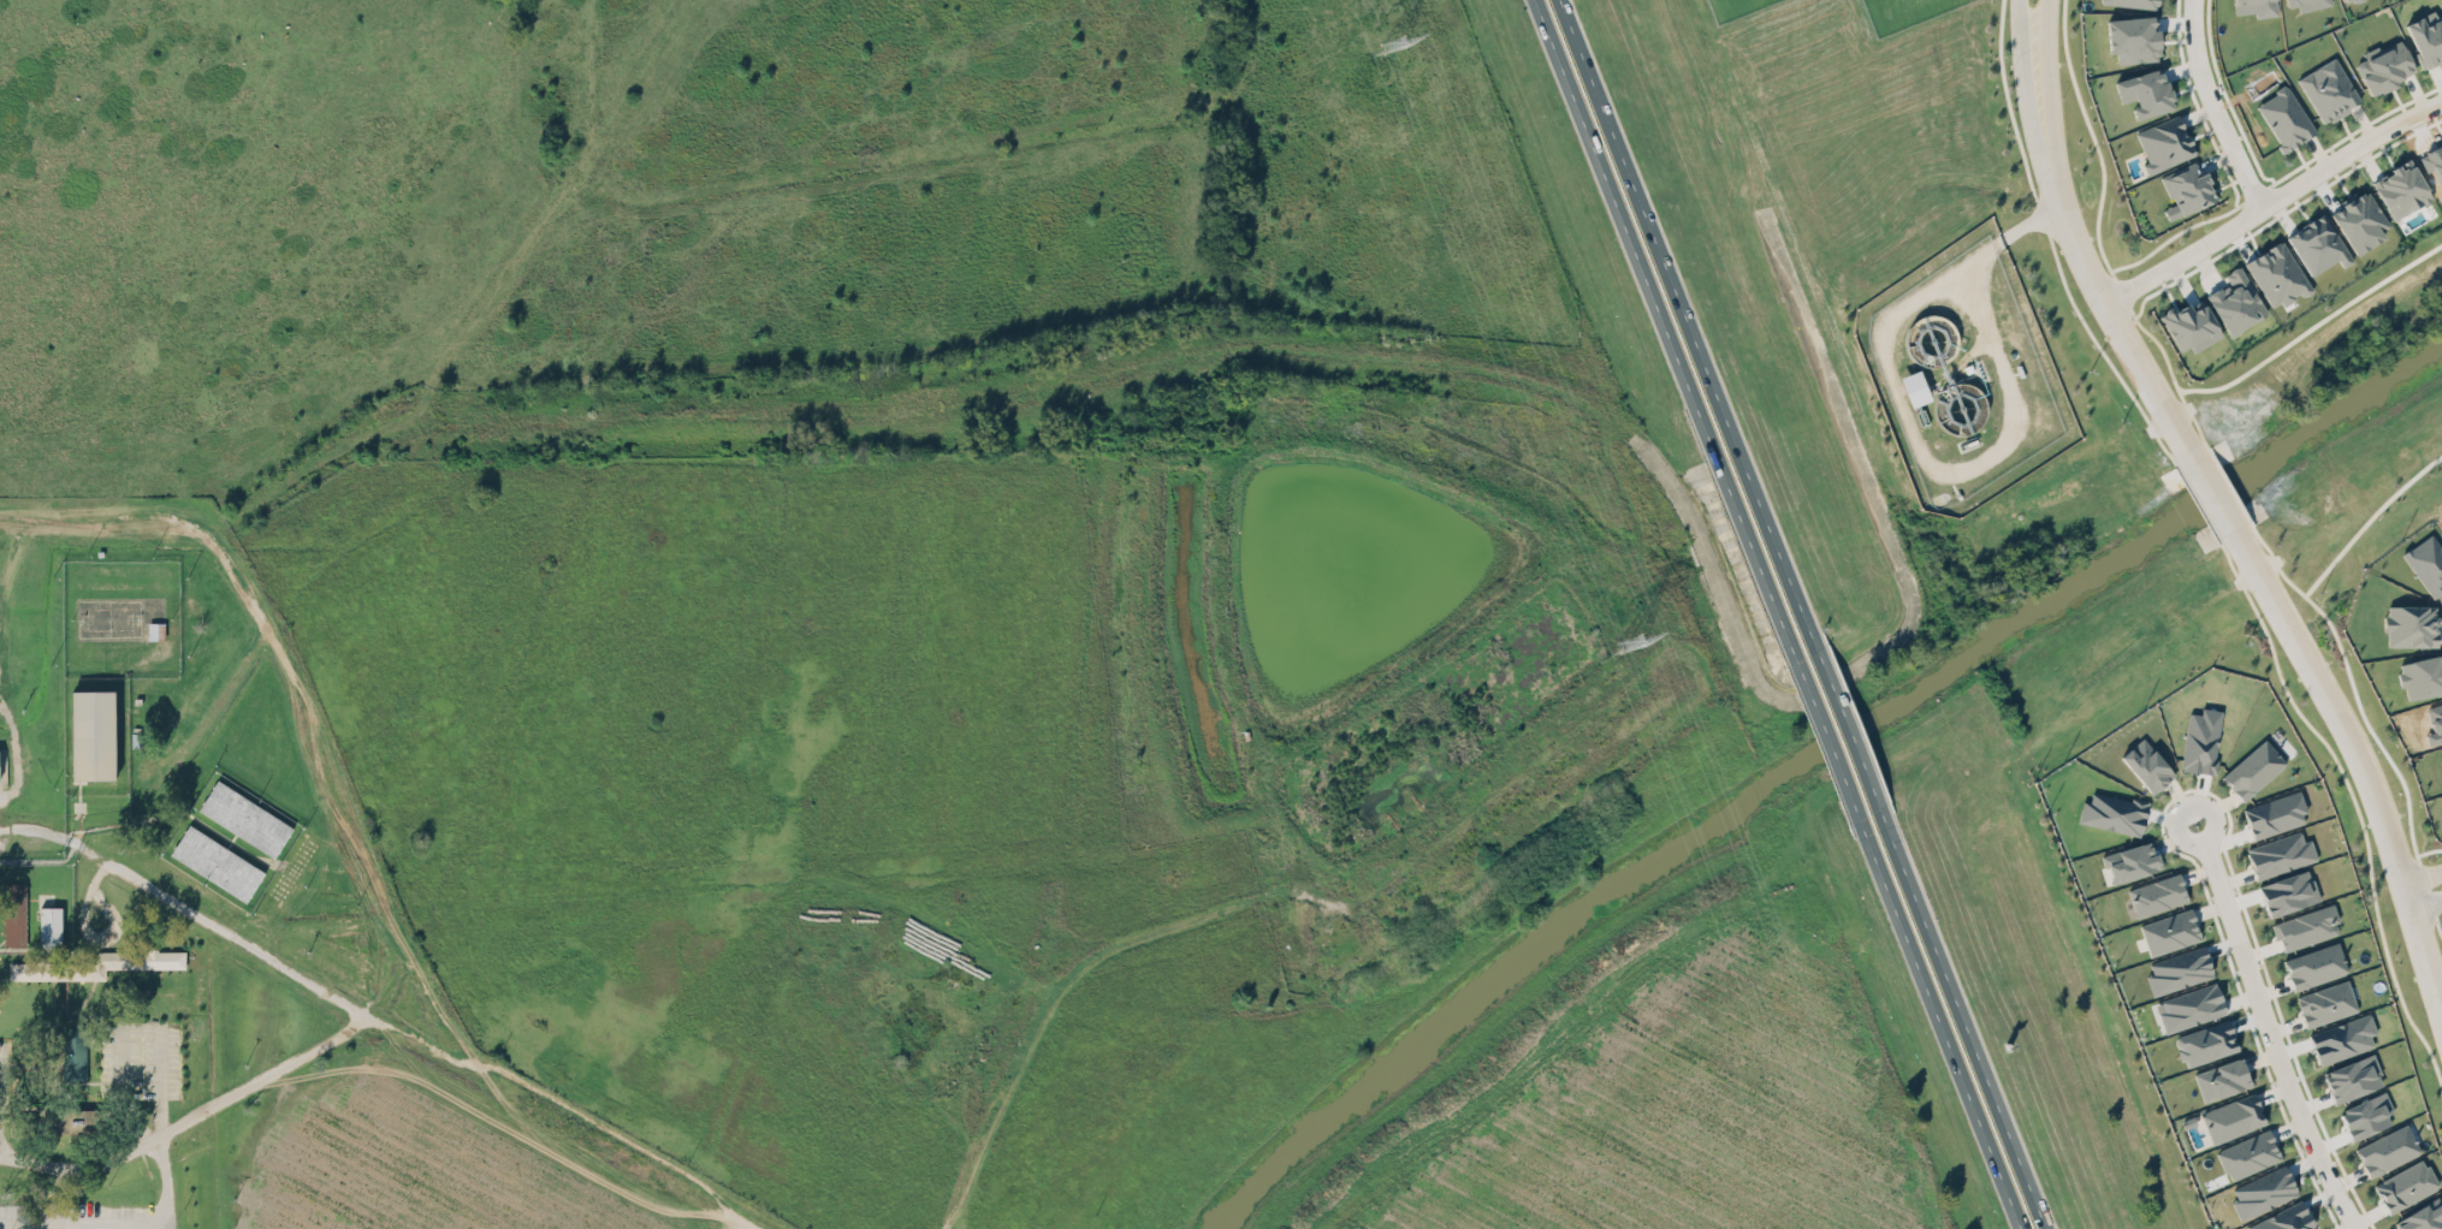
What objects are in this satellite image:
building: (2346, 0)
building: (2133, 2)
building: (2306, 4)
building: (2256, 7)
building: (2426, 37)
building: (2133, 38)
power tower: (1392, 43)
building: (2384, 67)
building: (2328, 89)
building: (2145, 91)
road: (2205, 111)
building: (2284, 118)
building: (2163, 143)
building: (2187, 188)
building: (2401, 189)
road: (2260, 210)
road: (2074, 219)
road: (2037, 230)
building: (2318, 244)
building: (2235, 301)
road: (1683, 309)
road: (1658, 313)
building: (2191, 326)
road: (1053, 372)
building: (1914, 387)
road: (2171, 435)
road: (2210, 495)
road: (2367, 519)
road: (219, 528)
road: (2268, 564)
building: (2410, 625)
building: (155, 629)
road: (1592, 639)
power tower: (1626, 640)
building: (2420, 677)
road: (1849, 729)
building: (93, 734)
road: (1826, 737)
road: (2376, 738)
building: (2201, 740)
river: (1802, 759)
building: (2146, 765)
road: (2357, 765)
building: (2253, 770)
road: (343, 805)
building: (2115, 812)
building: (2275, 814)
building: (244, 817)
road: (84, 832)
building: (2280, 854)
building: (217, 861)
building: (2130, 861)
road: (2423, 881)
building: (2288, 892)
building: (2157, 893)
road: (2424, 898)
road: (195, 912)
building: (14, 913)
road: (1195, 922)
building: (51, 925)
building: (2302, 927)
road: (88, 928)
building: (2169, 931)
building: (95, 963)
building: (2317, 966)
building: (2179, 969)
road: (1320, 976)
building: (2325, 1003)
building: (2191, 1007)
road: (2268, 1029)
road: (1970, 1034)
building: (2341, 1038)
road: (1945, 1039)
building: (2205, 1043)
road: (426, 1049)
building: (73, 1052)
building: (2352, 1077)
building: (2222, 1079)
building: (2366, 1115)
building: (2231, 1117)
building: (78, 1120)
road: (195, 1120)
road: (160, 1127)
crop: (1697, 1136)
building: (2387, 1150)
road: (10, 1152)
road: (623, 1152)
building: (2248, 1153)
road: (26, 1164)
building: (2405, 1185)
building: (2263, 1192)
building: (2286, 1218)
building: (2422, 1218)
road: (731, 1221)

